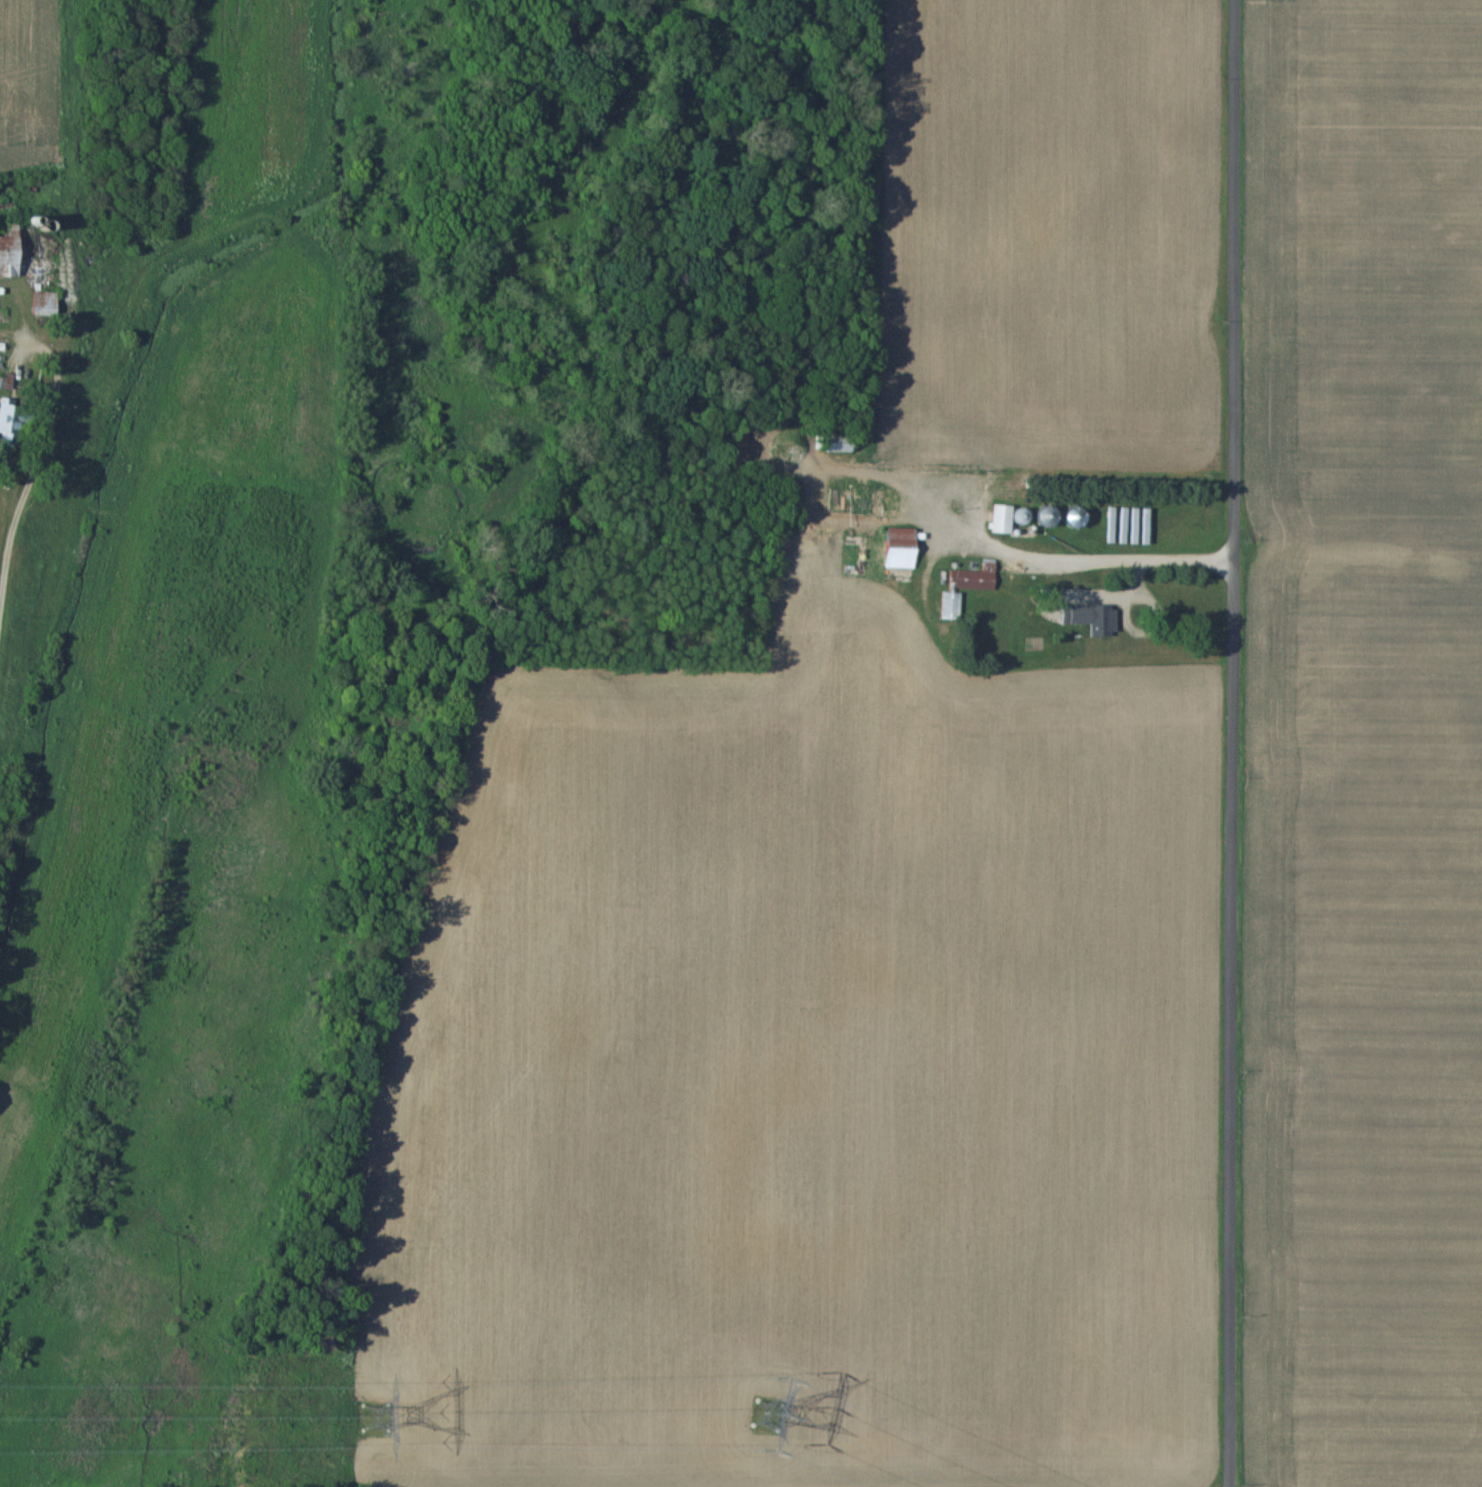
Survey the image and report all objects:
building: (44, 301)
building: (7, 418)
road: (28, 486)
building: (861, 501)
building: (1002, 518)
building: (901, 547)
road: (1117, 557)
building: (975, 575)
building: (951, 604)
building: (1098, 617)
road: (1234, 743)
power tower: (769, 1418)
power tower: (377, 1420)

